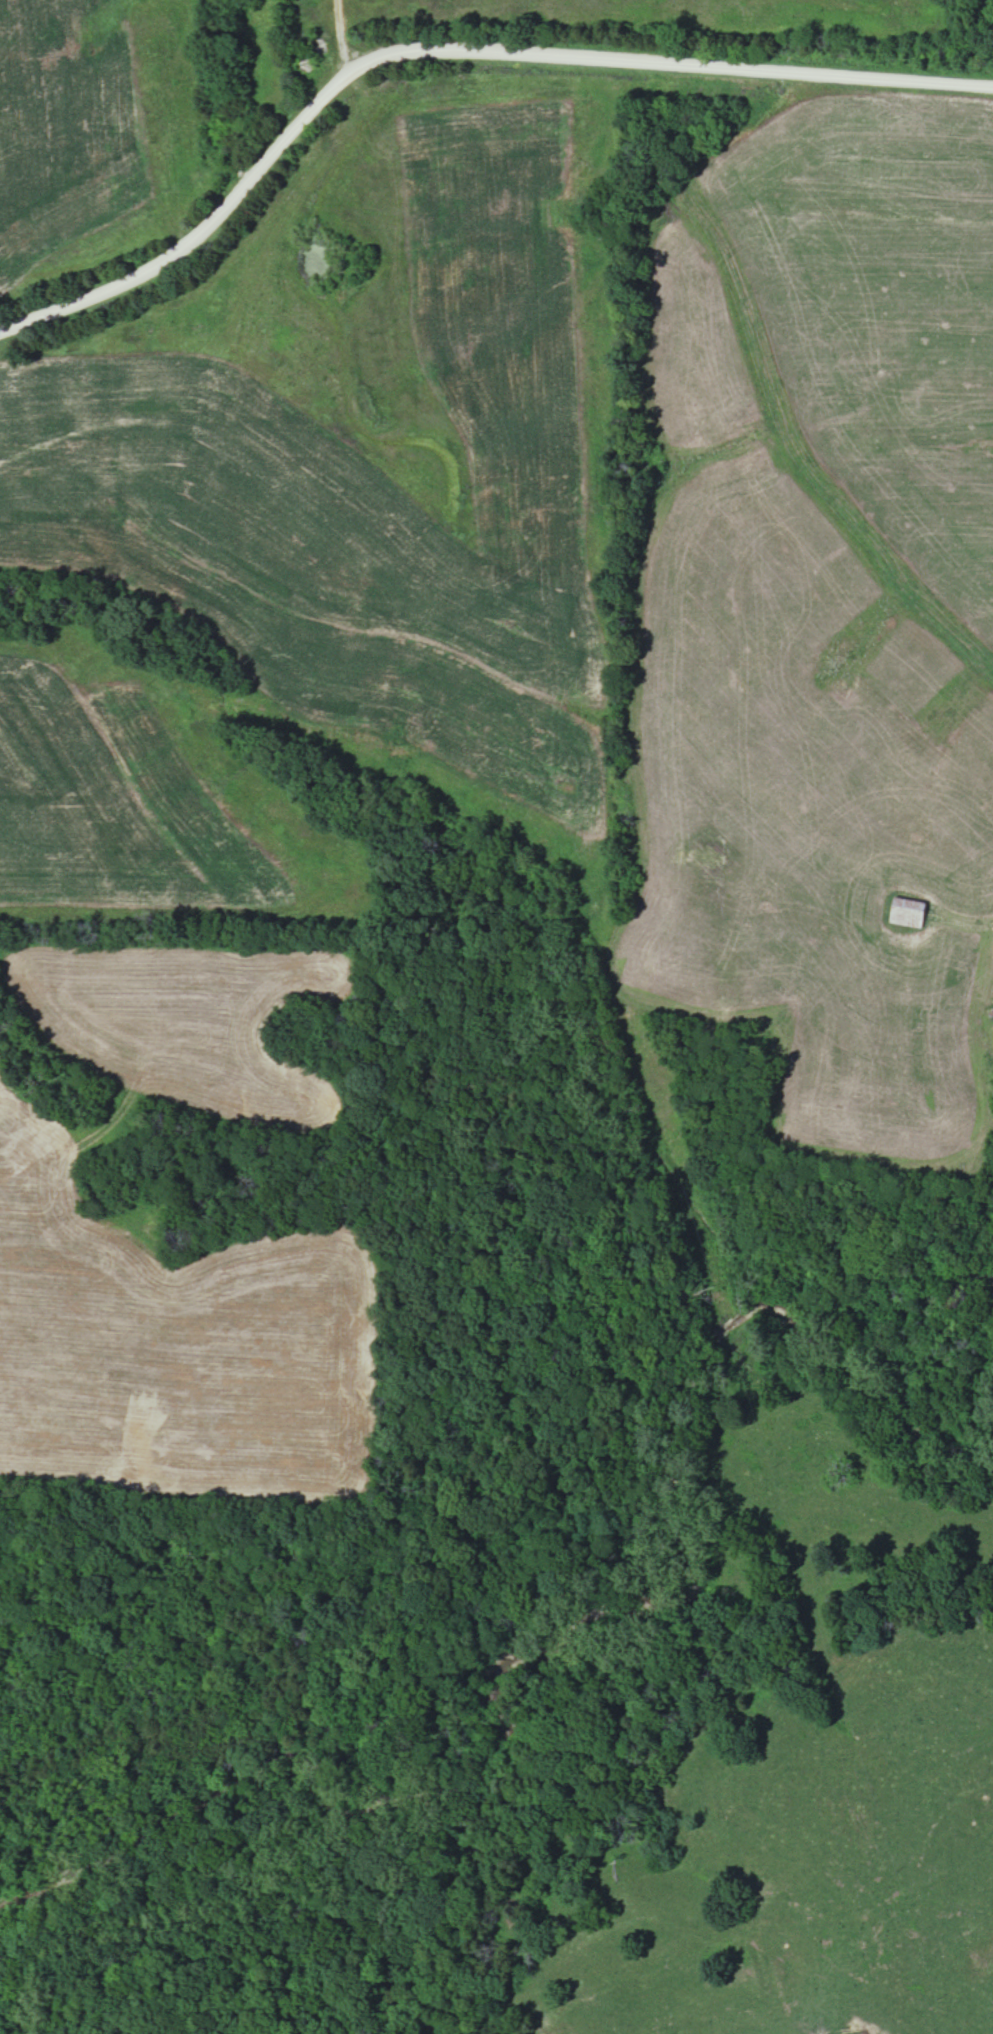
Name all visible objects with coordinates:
road: (435, 98)
building: (910, 912)

